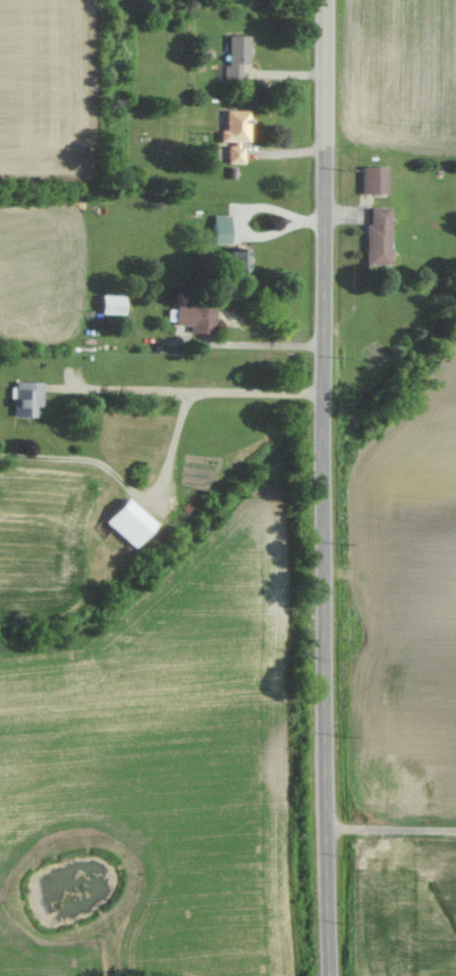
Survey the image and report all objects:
building: (231, 57)
building: (230, 134)
building: (367, 179)
building: (218, 230)
building: (371, 235)
building: (232, 259)
building: (104, 304)
building: (191, 316)
road: (245, 343)
road: (183, 387)
building: (19, 398)
road: (128, 483)
road: (326, 487)
building: (125, 521)

